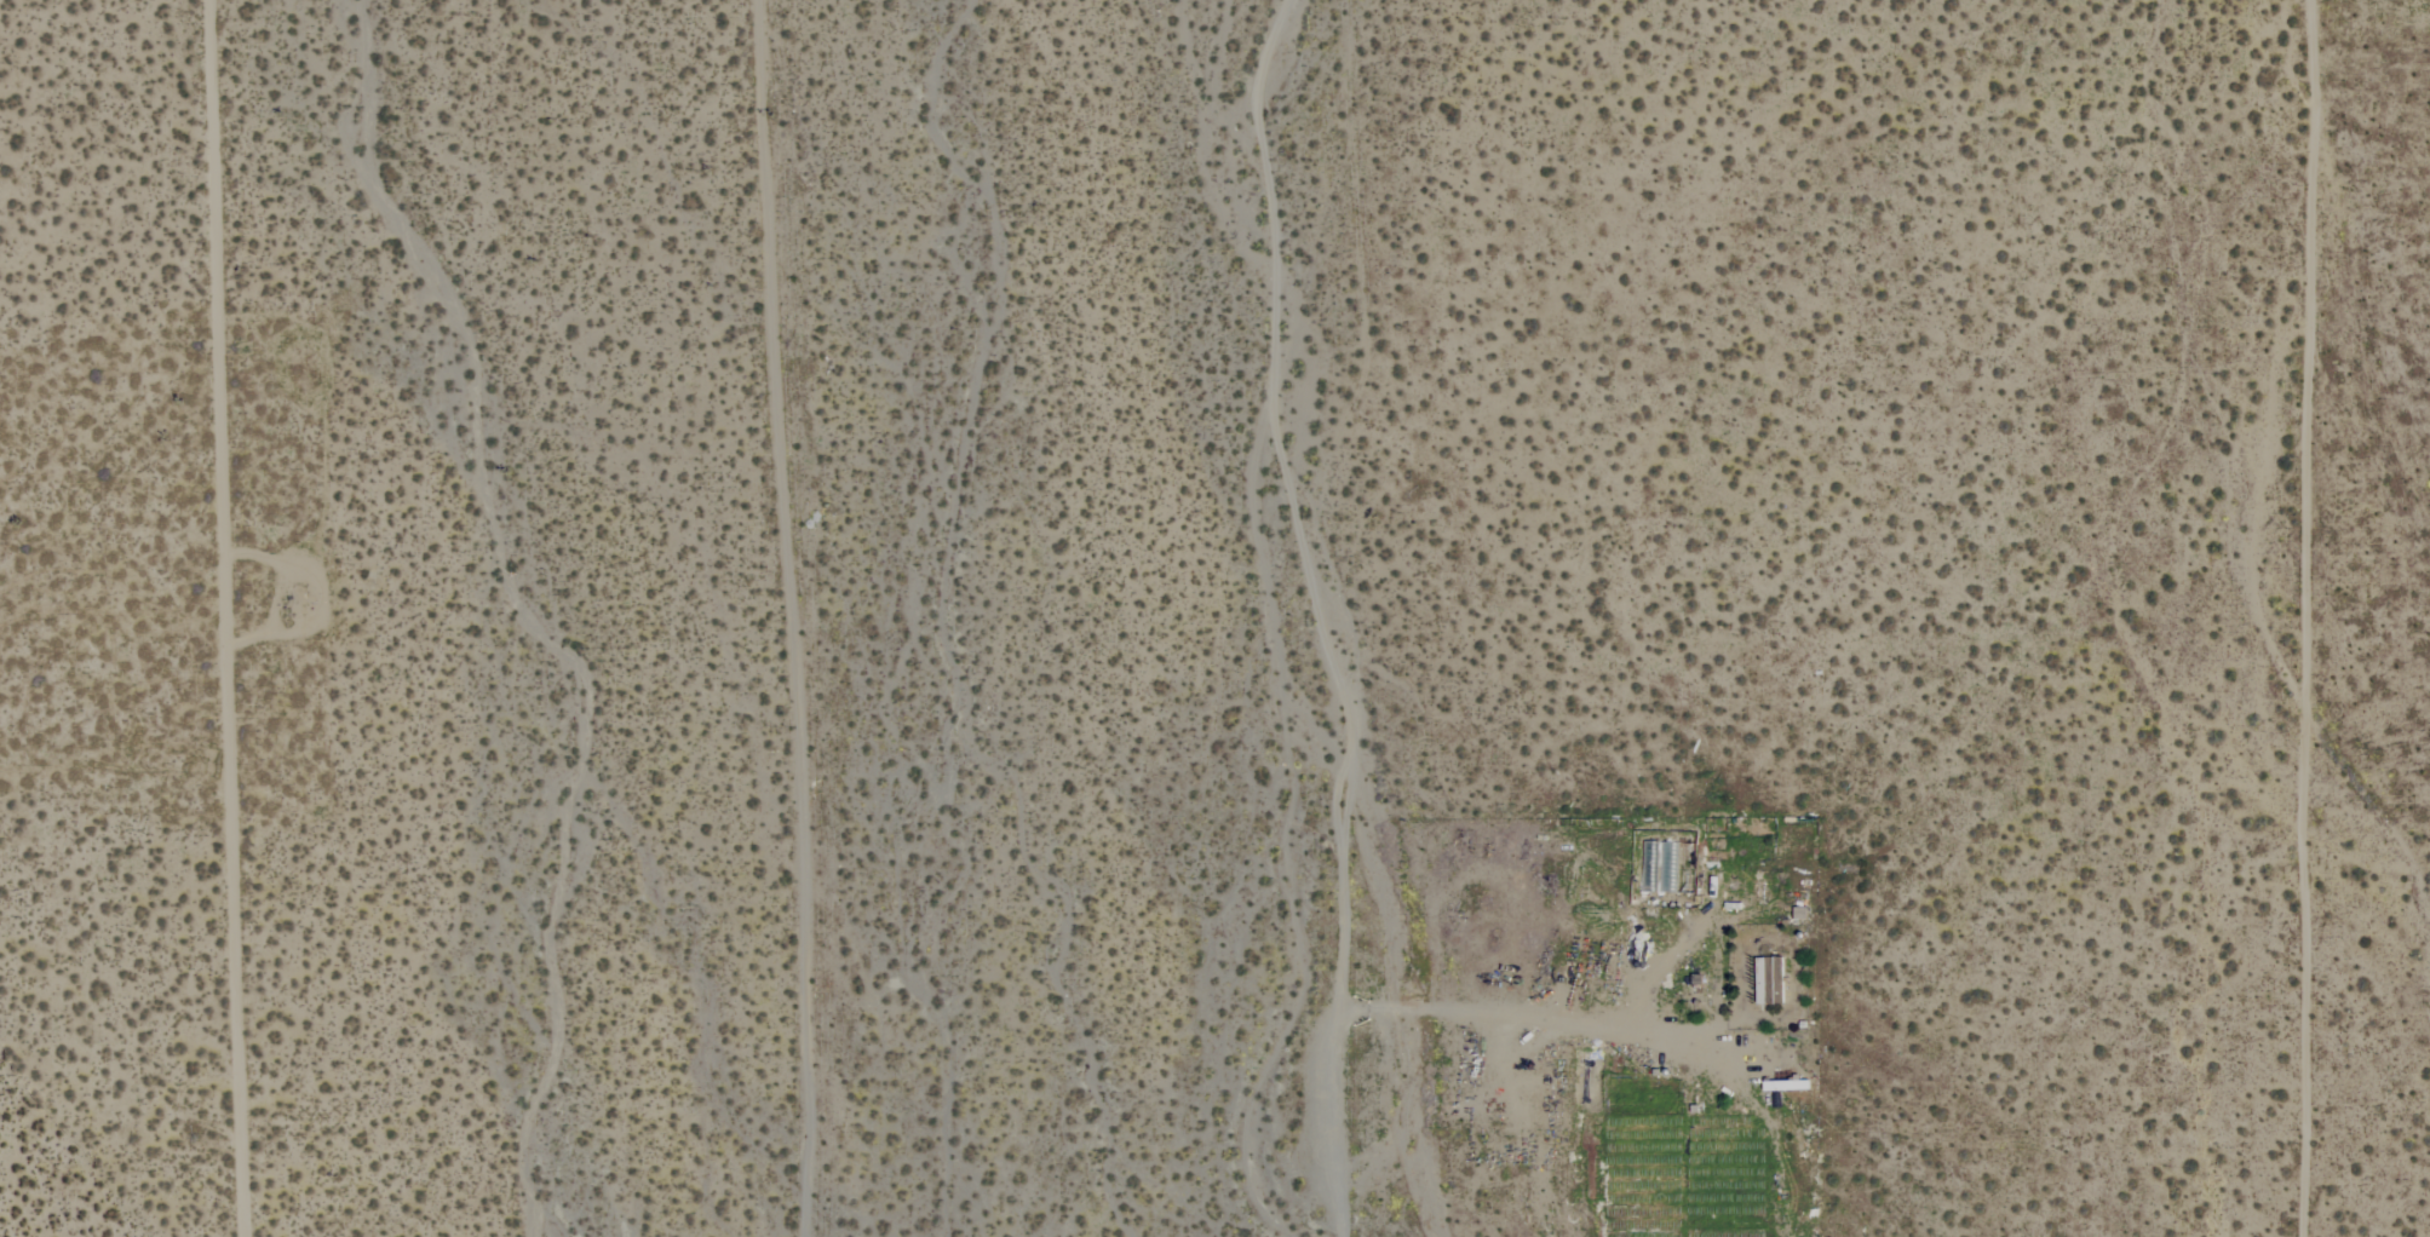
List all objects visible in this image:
road: (1320, 614)
road: (787, 617)
road: (217, 618)
building: (1767, 979)
road: (1528, 1017)

